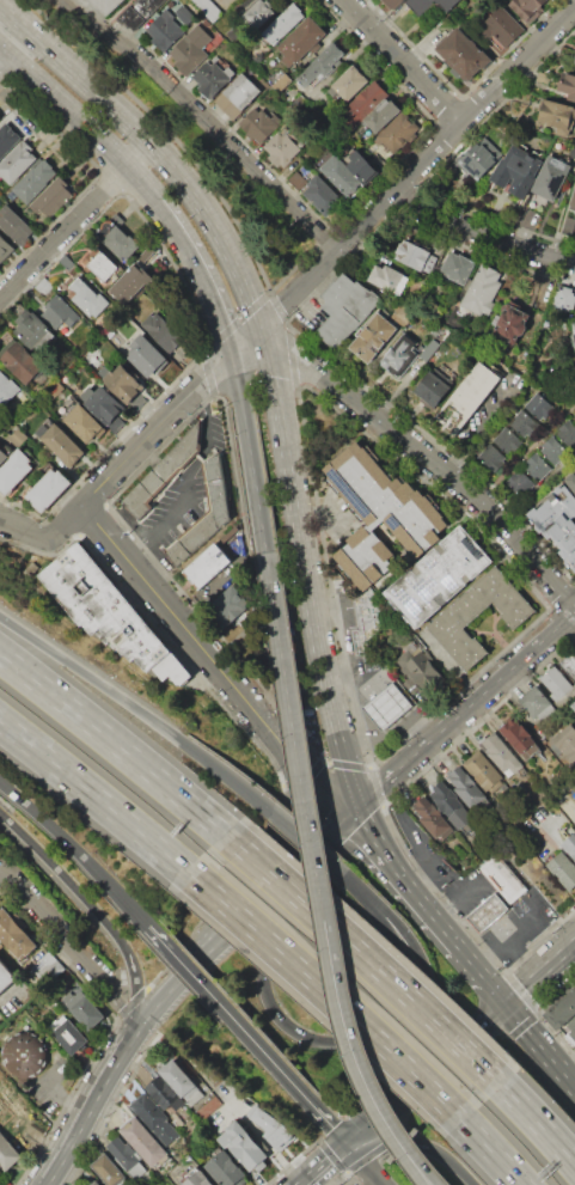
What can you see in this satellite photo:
building: (393, 4)
building: (106, 5)
building: (429, 5)
building: (207, 8)
building: (528, 8)
building: (139, 12)
building: (263, 12)
building: (184, 16)
building: (206, 23)
building: (282, 25)
building: (501, 26)
building: (164, 30)
building: (301, 42)
road: (420, 45)
road: (509, 48)
building: (191, 49)
road: (412, 49)
road: (56, 55)
building: (463, 55)
road: (399, 61)
building: (574, 61)
building: (319, 66)
building: (544, 77)
building: (212, 78)
road: (129, 83)
building: (349, 83)
building: (568, 85)
building: (241, 91)
building: (366, 100)
road: (494, 102)
building: (226, 105)
road: (472, 105)
road: (445, 108)
building: (381, 115)
building: (558, 116)
road: (81, 118)
road: (204, 118)
building: (259, 124)
road: (133, 126)
building: (399, 132)
building: (7, 139)
building: (281, 148)
road: (140, 157)
building: (478, 159)
building: (17, 161)
building: (362, 166)
road: (416, 167)
building: (518, 170)
building: (338, 173)
building: (33, 179)
building: (296, 179)
building: (548, 182)
building: (574, 184)
building: (323, 195)
building: (53, 196)
road: (403, 196)
building: (571, 198)
building: (16, 225)
building: (568, 225)
road: (63, 233)
road: (484, 233)
building: (118, 242)
building: (5, 248)
building: (415, 255)
building: (100, 265)
building: (455, 268)
road: (201, 273)
building: (385, 277)
building: (130, 286)
building: (481, 289)
building: (82, 295)
building: (563, 298)
building: (343, 305)
building: (438, 309)
building: (400, 311)
building: (60, 312)
building: (509, 323)
building: (574, 325)
building: (161, 331)
building: (36, 332)
building: (109, 332)
building: (373, 337)
road: (246, 340)
road: (251, 353)
building: (426, 353)
building: (400, 354)
building: (147, 356)
building: (22, 362)
building: (126, 385)
building: (432, 389)
building: (8, 390)
building: (466, 398)
building: (539, 405)
building: (105, 407)
road: (482, 421)
building: (84, 422)
building: (522, 423)
building: (567, 432)
building: (19, 436)
building: (508, 440)
building: (62, 445)
road: (141, 446)
building: (552, 450)
road: (251, 454)
building: (2, 456)
building: (493, 457)
road: (436, 460)
road: (288, 462)
building: (537, 466)
building: (13, 471)
building: (163, 471)
building: (570, 481)
building: (520, 482)
road: (186, 483)
building: (48, 489)
building: (203, 514)
building: (381, 519)
building: (557, 521)
road: (23, 527)
building: (207, 566)
building: (441, 576)
road: (160, 604)
building: (104, 610)
building: (222, 613)
building: (451, 619)
road: (342, 623)
building: (368, 627)
building: (569, 665)
building: (421, 670)
road: (389, 682)
building: (558, 685)
building: (538, 703)
building: (386, 705)
building: (574, 705)
road: (135, 707)
road: (465, 710)
building: (519, 735)
road: (115, 740)
building: (568, 746)
building: (501, 753)
road: (298, 755)
building: (483, 771)
building: (467, 786)
road: (289, 787)
road: (94, 793)
building: (451, 805)
building: (434, 818)
road: (50, 825)
road: (329, 831)
road: (305, 838)
road: (312, 838)
building: (570, 845)
building: (563, 871)
building: (503, 878)
road: (402, 879)
road: (360, 888)
road: (118, 893)
road: (455, 898)
road: (92, 906)
building: (487, 911)
road: (483, 916)
building: (16, 934)
road: (219, 939)
road: (72, 949)
road: (510, 949)
road: (489, 953)
road: (367, 958)
building: (45, 966)
road: (539, 967)
road: (479, 972)
building: (5, 978)
road: (427, 979)
road: (22, 983)
road: (328, 994)
traffic signals: (504, 1000)
building: (85, 1010)
road: (227, 1012)
building: (561, 1012)
building: (66, 1036)
road: (302, 1038)
road: (539, 1043)
building: (25, 1055)
road: (426, 1068)
building: (182, 1082)
road: (66, 1097)
building: (167, 1100)
road: (93, 1105)
road: (225, 1106)
building: (154, 1118)
road: (331, 1123)
road: (539, 1123)
building: (270, 1126)
traffic signals: (348, 1137)
road: (264, 1140)
building: (145, 1142)
building: (244, 1144)
road: (417, 1144)
road: (414, 1148)
building: (8, 1152)
road: (399, 1152)
road: (493, 1153)
building: (128, 1157)
road: (367, 1160)
road: (320, 1161)
building: (227, 1168)
building: (109, 1169)
building: (200, 1179)
building: (96, 1183)

